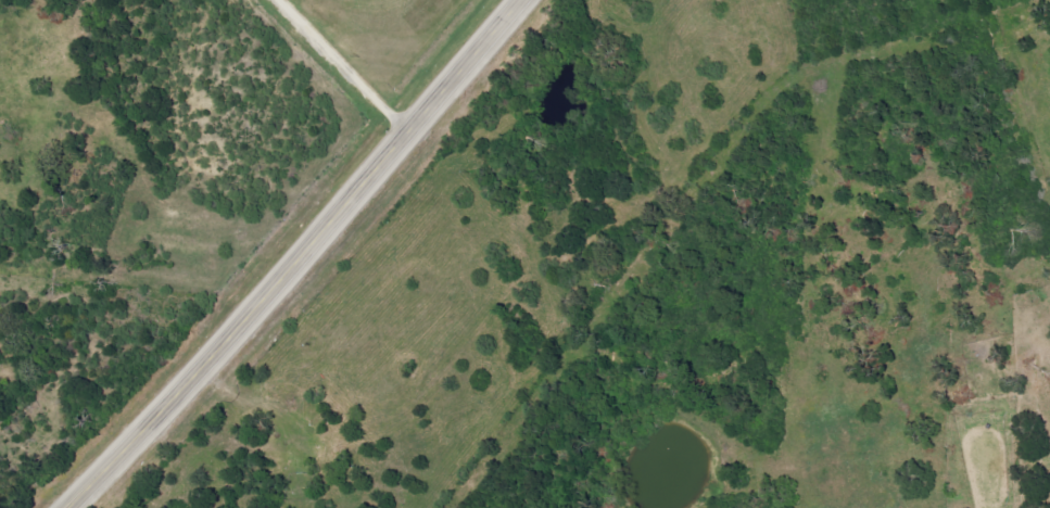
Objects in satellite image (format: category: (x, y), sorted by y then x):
road: (344, 67)
road: (304, 257)

